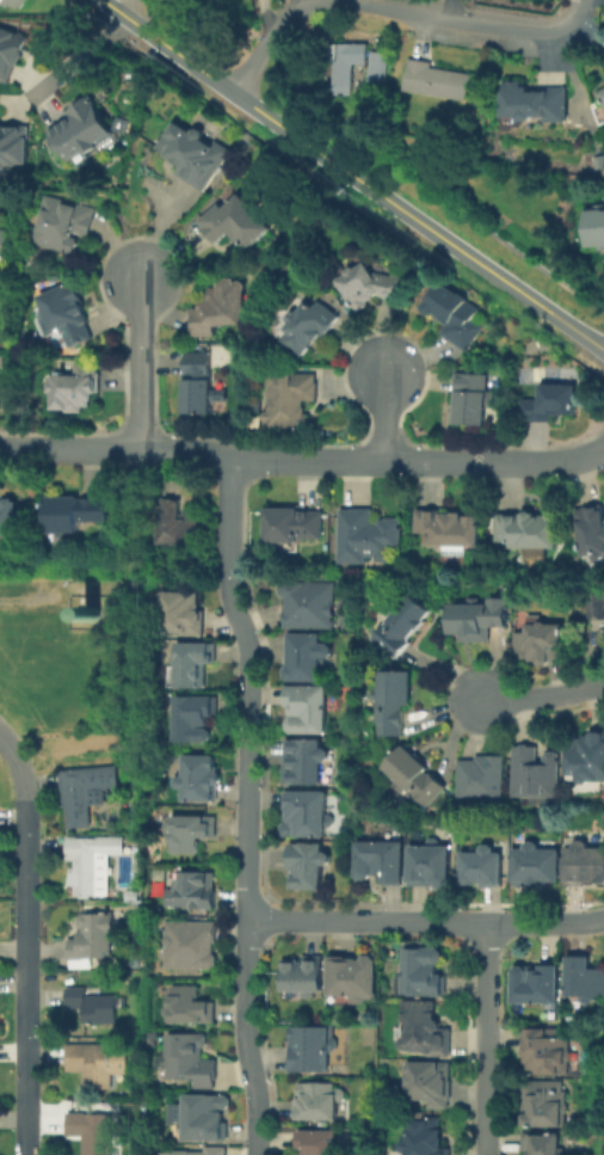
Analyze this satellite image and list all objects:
building: (16, 4)
road: (585, 6)
road: (111, 8)
road: (128, 8)
road: (390, 12)
building: (10, 51)
road: (75, 57)
building: (376, 66)
building: (603, 68)
building: (350, 69)
building: (440, 84)
building: (602, 94)
road: (252, 106)
building: (535, 106)
building: (81, 128)
building: (13, 146)
building: (196, 155)
building: (64, 223)
building: (240, 225)
building: (596, 229)
road: (492, 274)
building: (368, 287)
building: (221, 311)
building: (67, 317)
building: (455, 317)
building: (310, 327)
road: (141, 364)
building: (198, 386)
building: (76, 388)
building: (291, 401)
building: (472, 403)
building: (551, 405)
road: (386, 419)
road: (116, 450)
road: (418, 465)
building: (75, 512)
building: (10, 518)
road: (230, 521)
building: (180, 526)
building: (291, 527)
building: (450, 528)
building: (591, 532)
building: (531, 535)
building: (368, 537)
building: (308, 604)
building: (594, 607)
building: (113, 613)
building: (187, 613)
building: (85, 614)
building: (474, 620)
building: (401, 623)
building: (541, 643)
building: (304, 657)
building: (197, 663)
road: (540, 698)
building: (390, 701)
building: (304, 709)
building: (198, 718)
building: (585, 756)
building: (301, 761)
building: (128, 767)
building: (140, 767)
building: (534, 773)
building: (412, 776)
building: (204, 778)
building: (480, 779)
building: (87, 792)
building: (304, 815)
building: (193, 833)
building: (377, 861)
building: (95, 862)
building: (583, 864)
building: (429, 865)
road: (247, 866)
building: (304, 866)
building: (532, 866)
building: (479, 867)
building: (196, 891)
building: (136, 895)
road: (425, 922)
road: (29, 938)
building: (94, 939)
building: (193, 945)
building: (419, 971)
building: (301, 973)
building: (351, 975)
building: (583, 977)
building: (534, 982)
building: (97, 1006)
building: (192, 1006)
building: (423, 1027)
building: (156, 1038)
road: (487, 1039)
building: (309, 1045)
building: (544, 1050)
building: (193, 1059)
building: (100, 1062)
building: (427, 1080)
building: (316, 1099)
building: (543, 1102)
building: (208, 1118)
building: (94, 1131)
building: (421, 1137)
building: (316, 1141)
building: (541, 1143)
building: (220, 1149)

